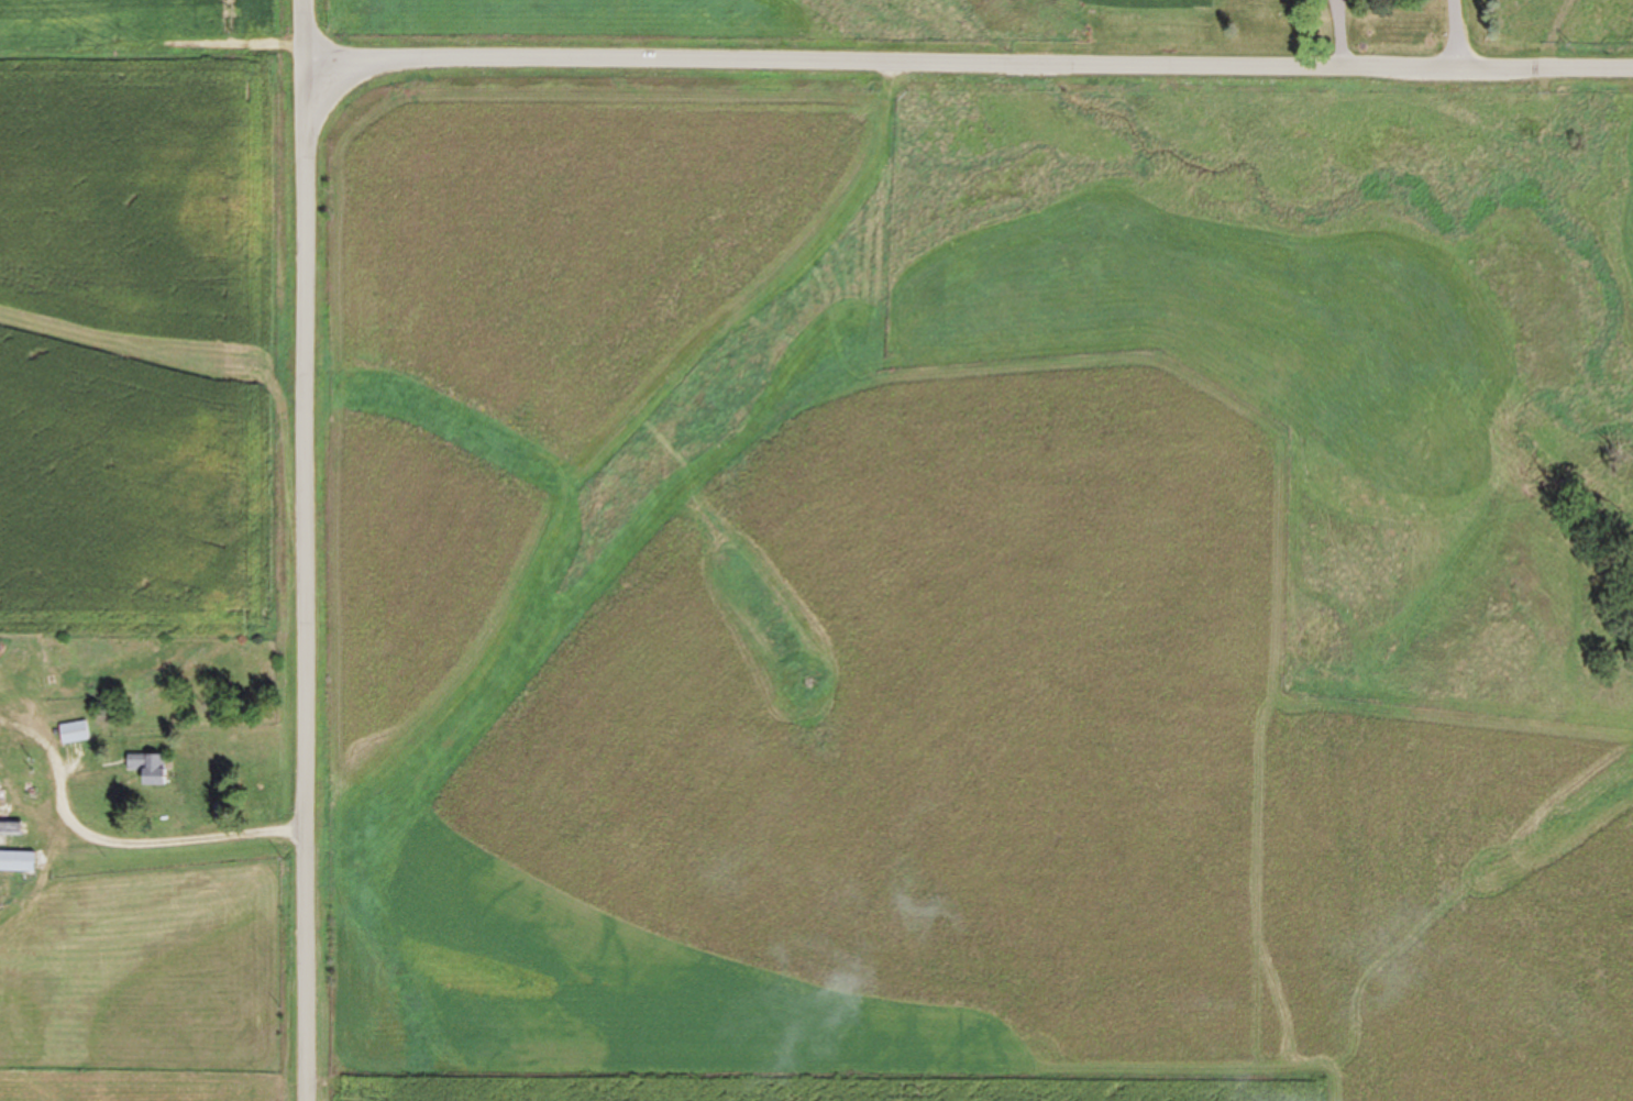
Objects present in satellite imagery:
road: (968, 65)
road: (301, 550)
building: (66, 654)
building: (2, 686)
building: (73, 733)
building: (148, 769)
building: (10, 828)
building: (15, 862)

